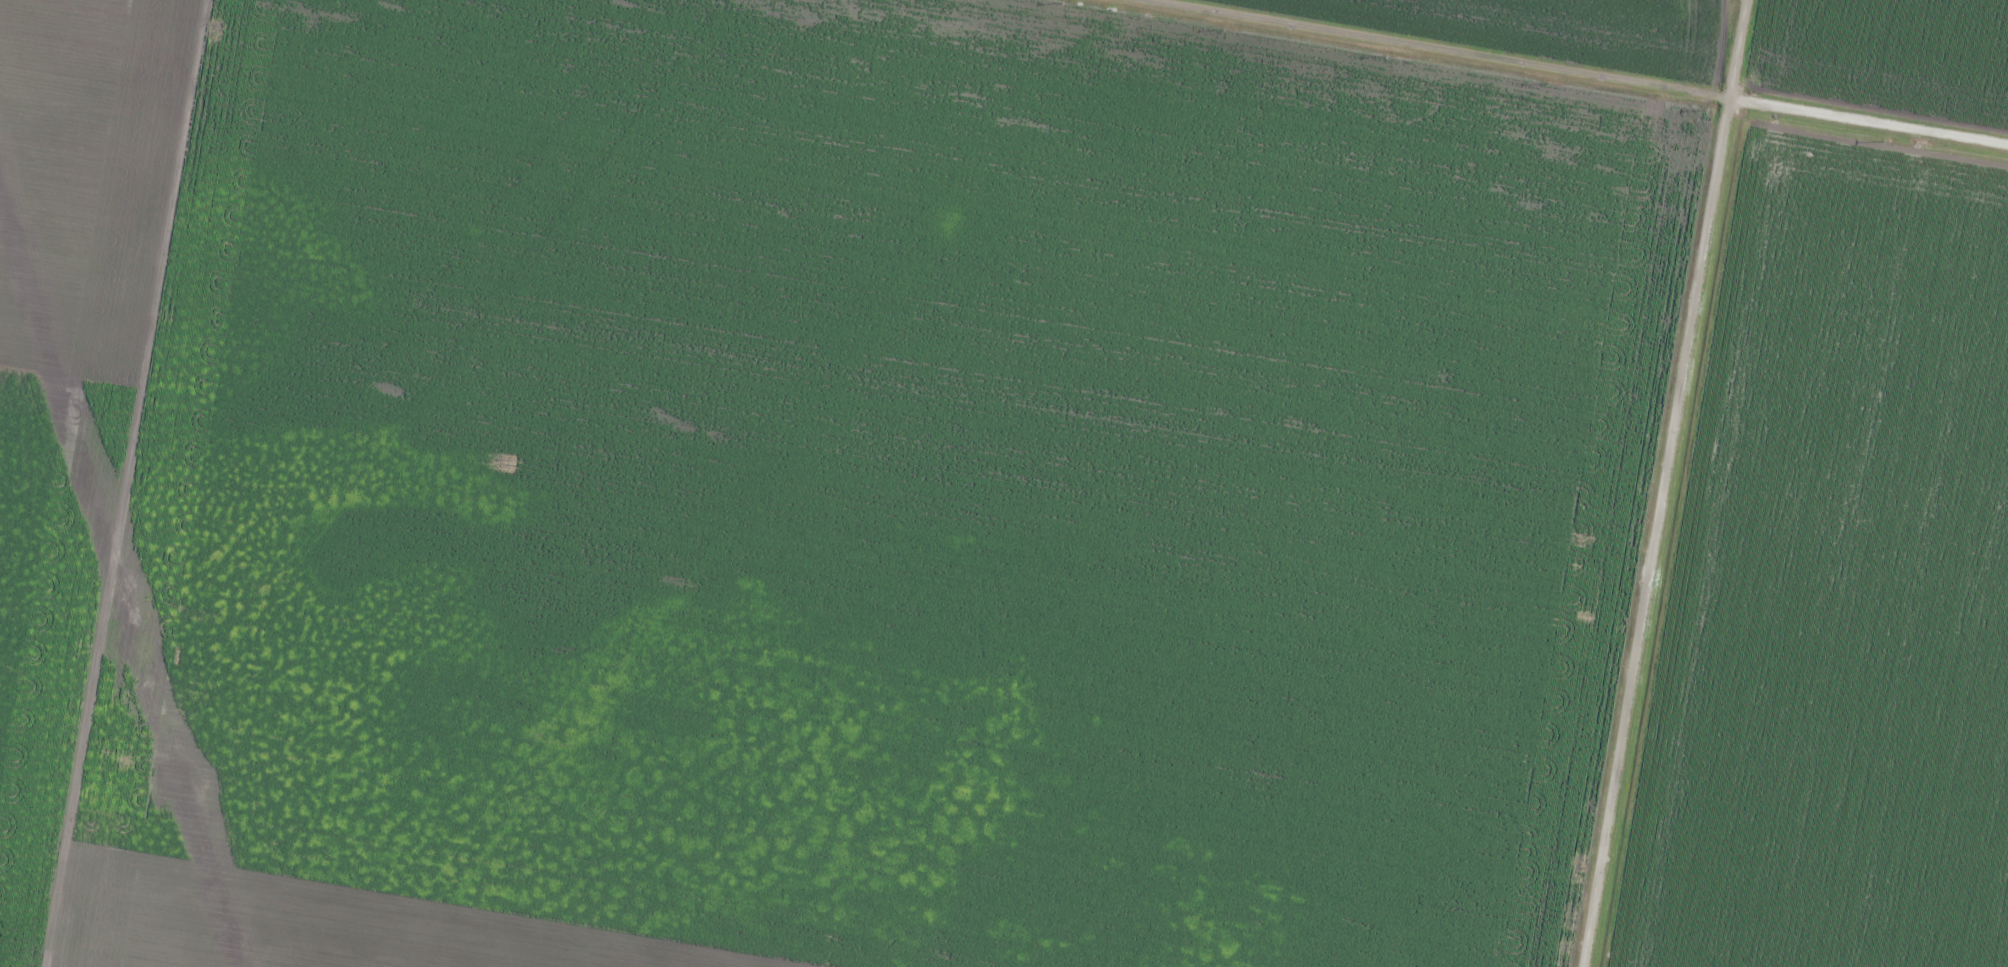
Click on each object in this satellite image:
road: (1564, 74)
road: (1668, 483)

